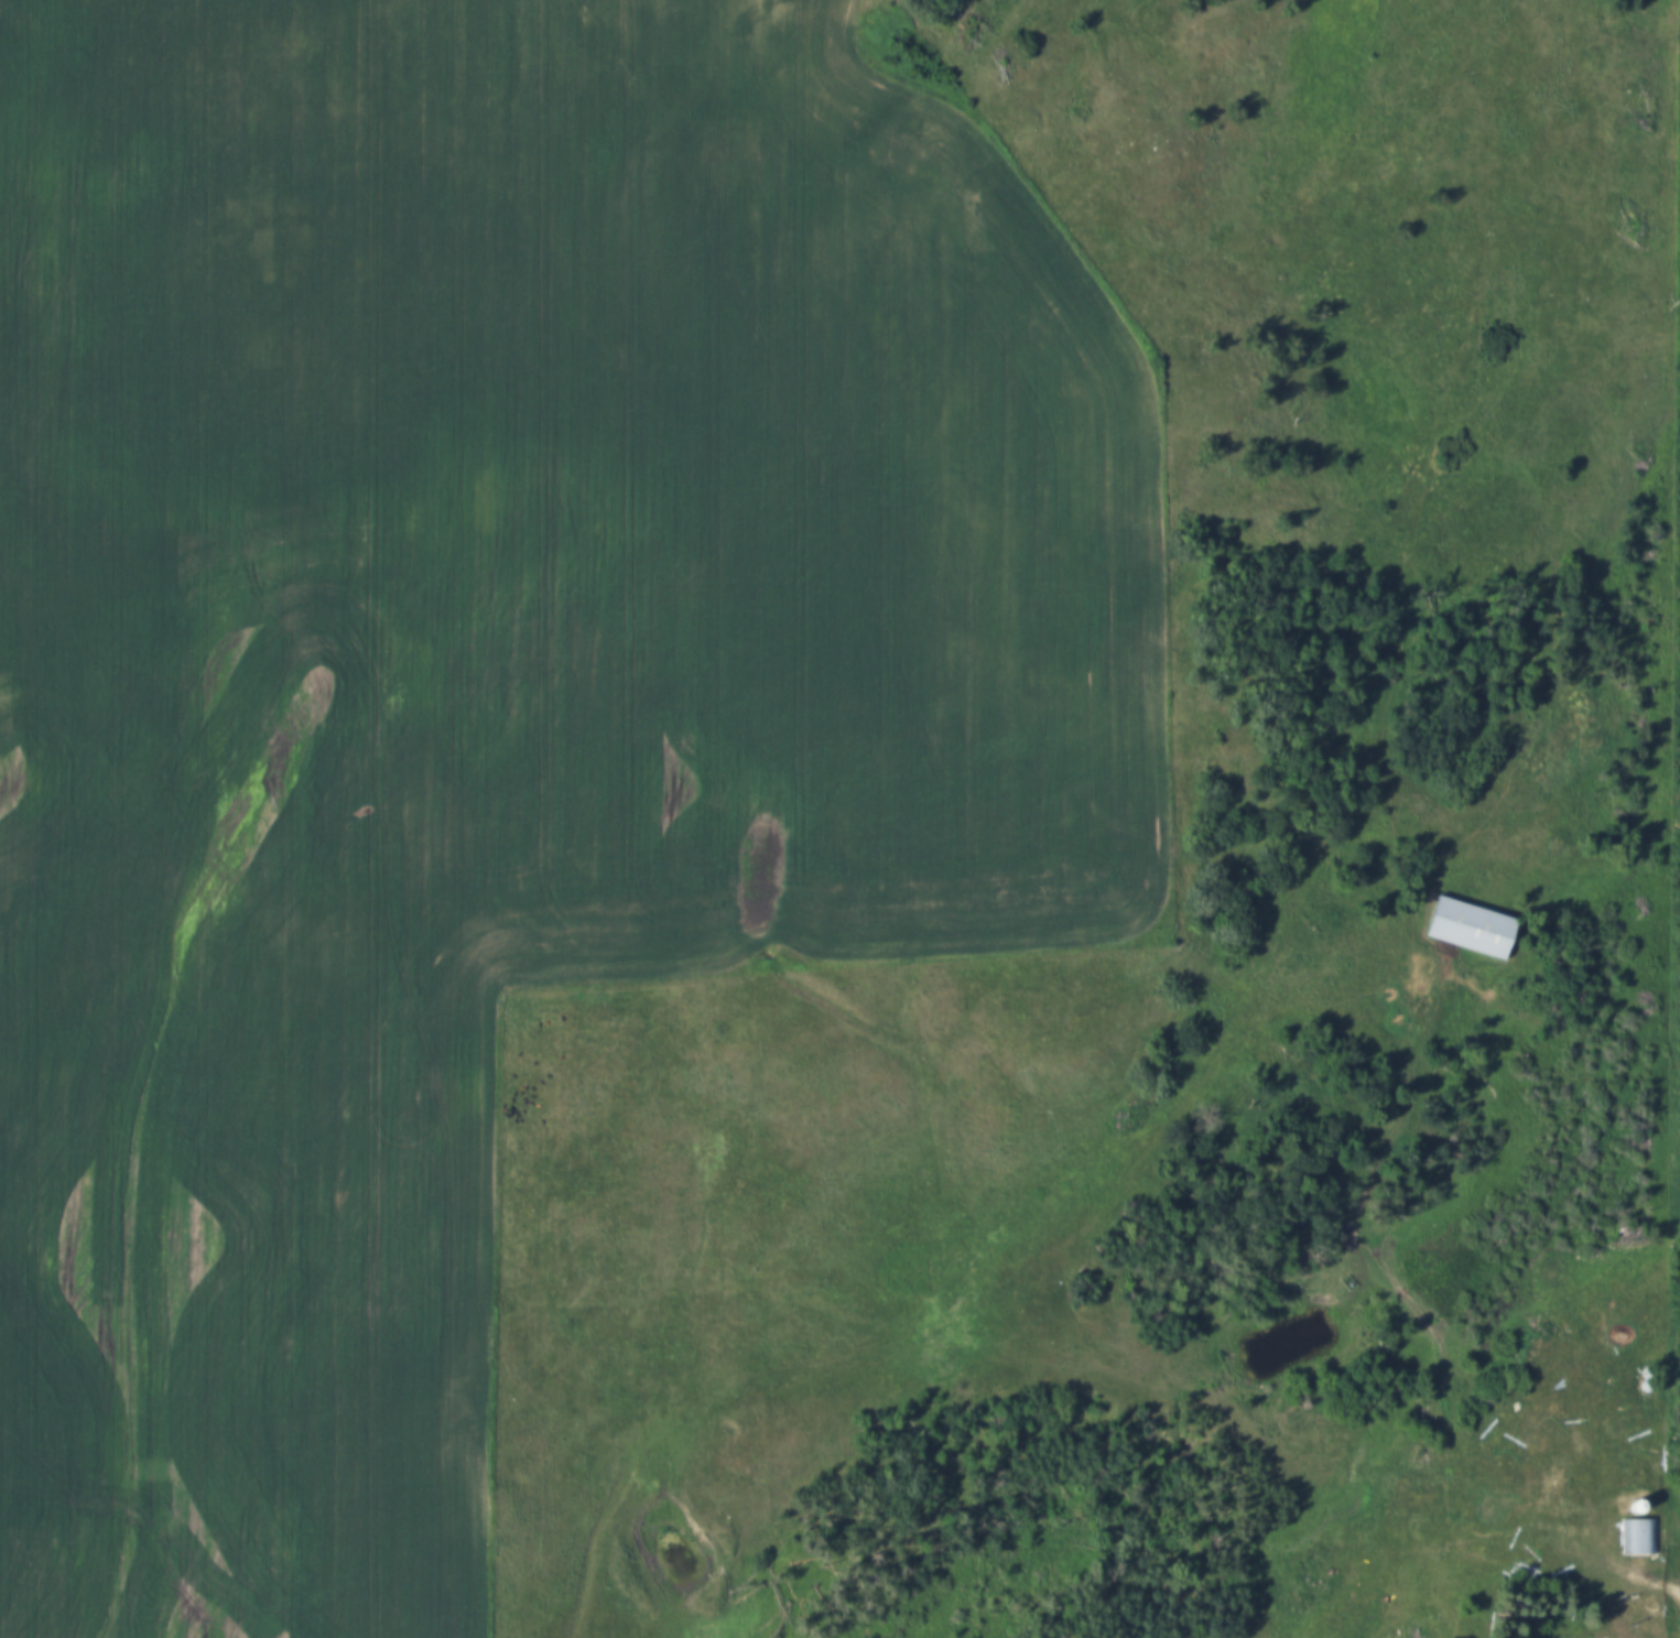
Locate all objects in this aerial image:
road: (1637, 1570)

